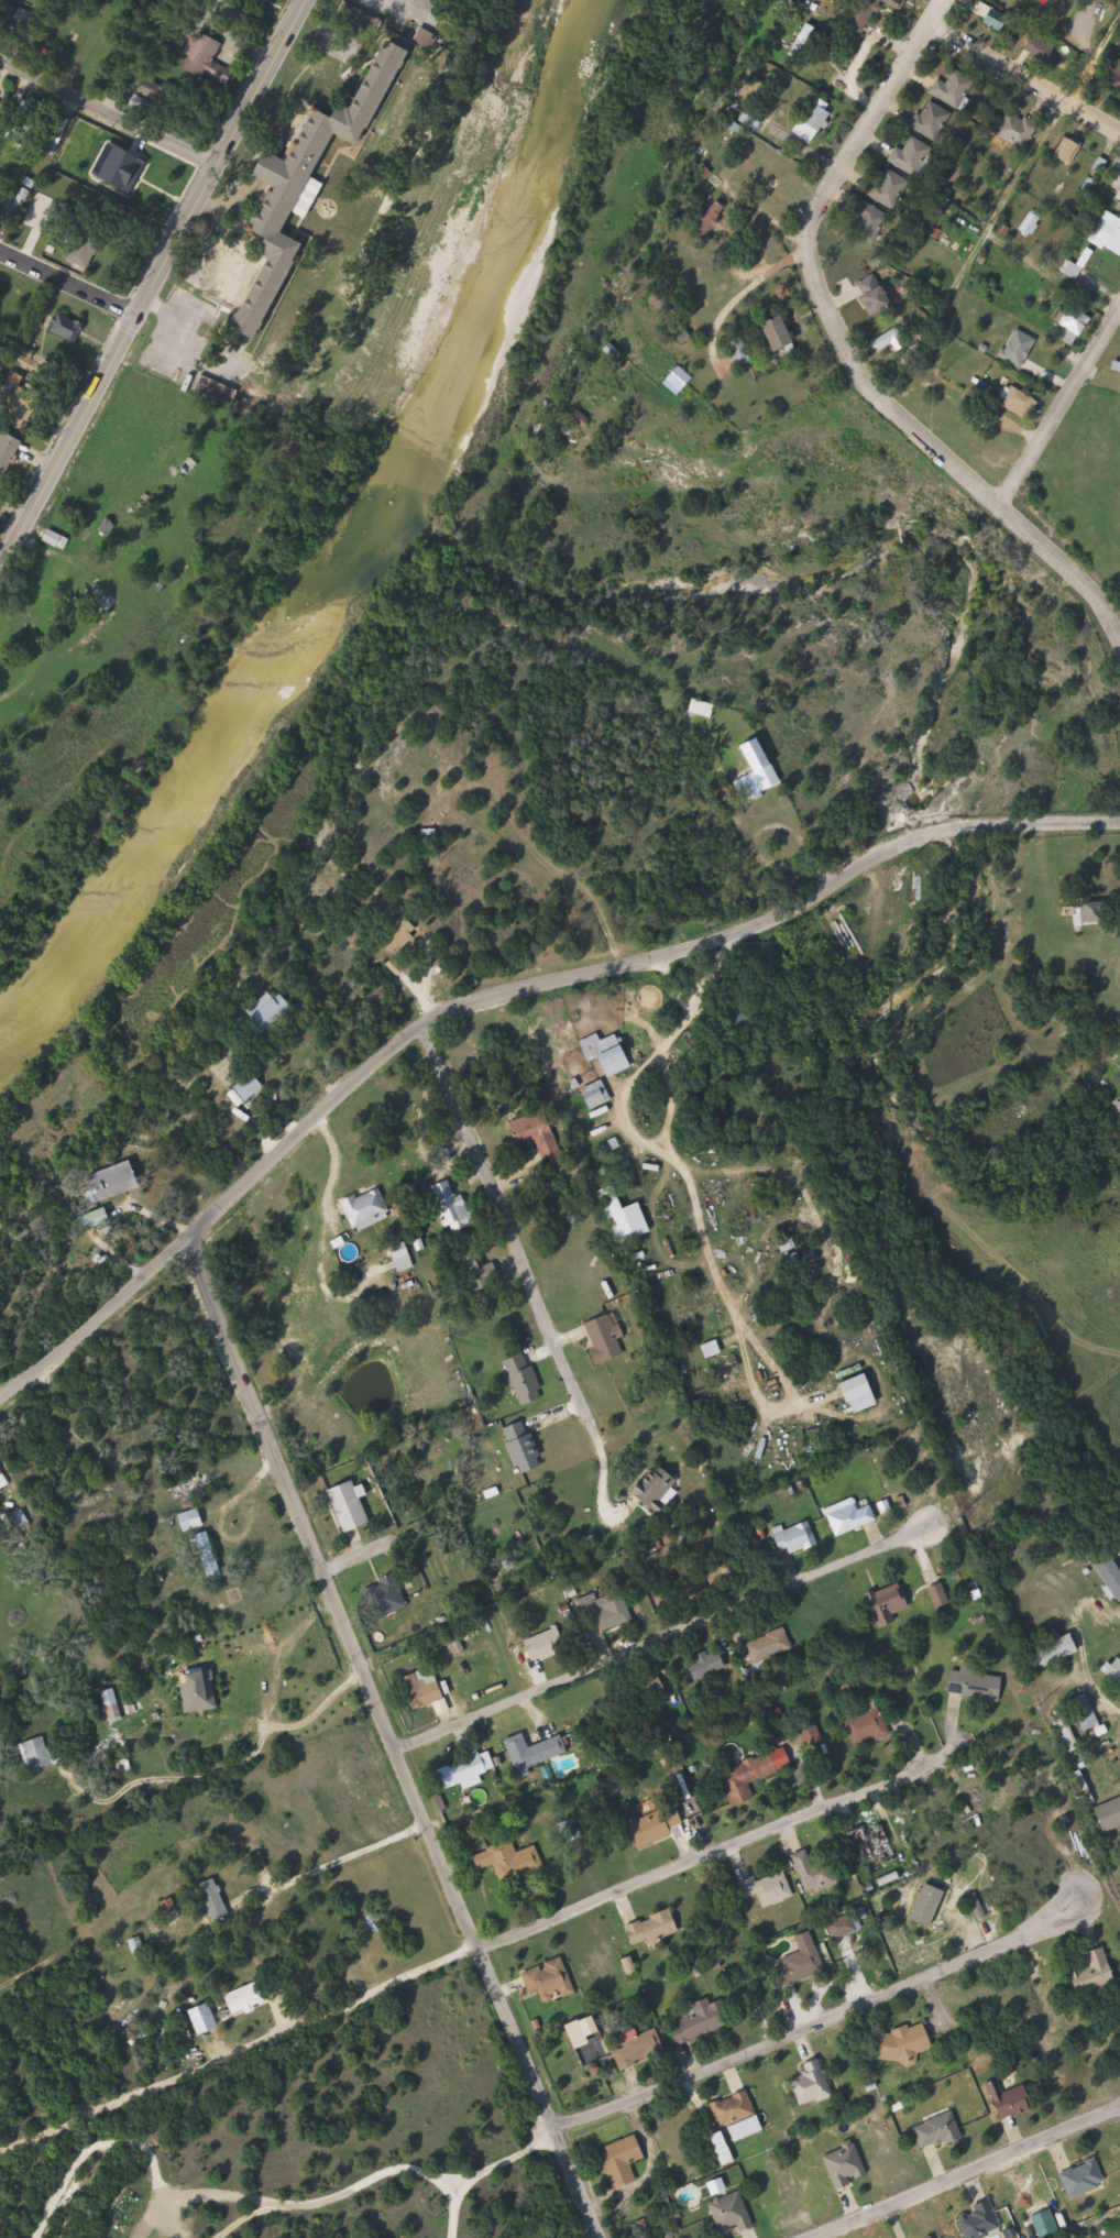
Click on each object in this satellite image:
building: (1048, 1)
building: (870, 11)
building: (429, 39)
building: (809, 43)
building: (103, 48)
building: (208, 58)
road: (1024, 74)
building: (954, 88)
building: (3, 102)
road: (109, 116)
building: (932, 120)
building: (814, 123)
building: (40, 129)
building: (1018, 130)
building: (1073, 151)
building: (912, 157)
building: (1114, 178)
building: (312, 183)
building: (777, 188)
building: (888, 188)
building: (1117, 202)
building: (20, 204)
road: (1000, 209)
building: (714, 217)
building: (868, 221)
building: (1108, 233)
building: (85, 252)
road: (67, 285)
road: (151, 287)
building: (878, 293)
building: (1074, 322)
building: (69, 329)
building: (783, 333)
building: (740, 352)
road: (845, 355)
building: (679, 382)
building: (217, 392)
building: (1021, 402)
road: (1065, 412)
building: (9, 450)
building: (0, 509)
building: (102, 596)
building: (703, 709)
building: (758, 774)
building: (1092, 913)
building: (400, 935)
road: (625, 968)
building: (272, 1010)
building: (746, 1021)
building: (608, 1053)
building: (597, 1095)
building: (539, 1134)
building: (117, 1181)
building: (452, 1208)
building: (369, 1210)
building: (625, 1217)
road: (516, 1236)
building: (793, 1253)
building: (405, 1259)
road: (95, 1320)
building: (604, 1340)
building: (524, 1381)
building: (523, 1448)
building: (3, 1481)
building: (656, 1490)
building: (350, 1507)
building: (193, 1520)
building: (849, 1521)
building: (795, 1538)
building: (208, 1556)
road: (361, 1561)
building: (1112, 1573)
building: (388, 1595)
building: (940, 1595)
building: (889, 1603)
building: (602, 1610)
road: (1079, 1642)
building: (546, 1646)
building: (768, 1646)
building: (1059, 1649)
building: (707, 1665)
road: (600, 1667)
building: (1114, 1672)
building: (976, 1686)
building: (421, 1689)
building: (202, 1692)
building: (651, 1692)
building: (111, 1704)
road: (318, 1705)
building: (1085, 1712)
building: (866, 1727)
road: (392, 1740)
building: (534, 1752)
building: (40, 1754)
road: (237, 1763)
building: (463, 1774)
building: (746, 1778)
building: (1109, 1815)
building: (657, 1826)
building: (872, 1844)
road: (333, 1861)
building: (512, 1862)
building: (816, 1875)
road: (654, 1880)
building: (768, 1889)
building: (215, 1900)
building: (844, 1928)
building: (654, 1929)
building: (802, 1963)
building: (1095, 1973)
building: (550, 1981)
building: (246, 1998)
building: (702, 2021)
building: (903, 2044)
building: (639, 2048)
road: (753, 2051)
building: (813, 2084)
building: (1010, 2100)
road: (271, 2106)
building: (739, 2115)
building: (940, 2131)
building: (622, 2162)
building: (845, 2165)
road: (965, 2173)
building: (1085, 2179)
building: (732, 2214)
building: (980, 2220)

